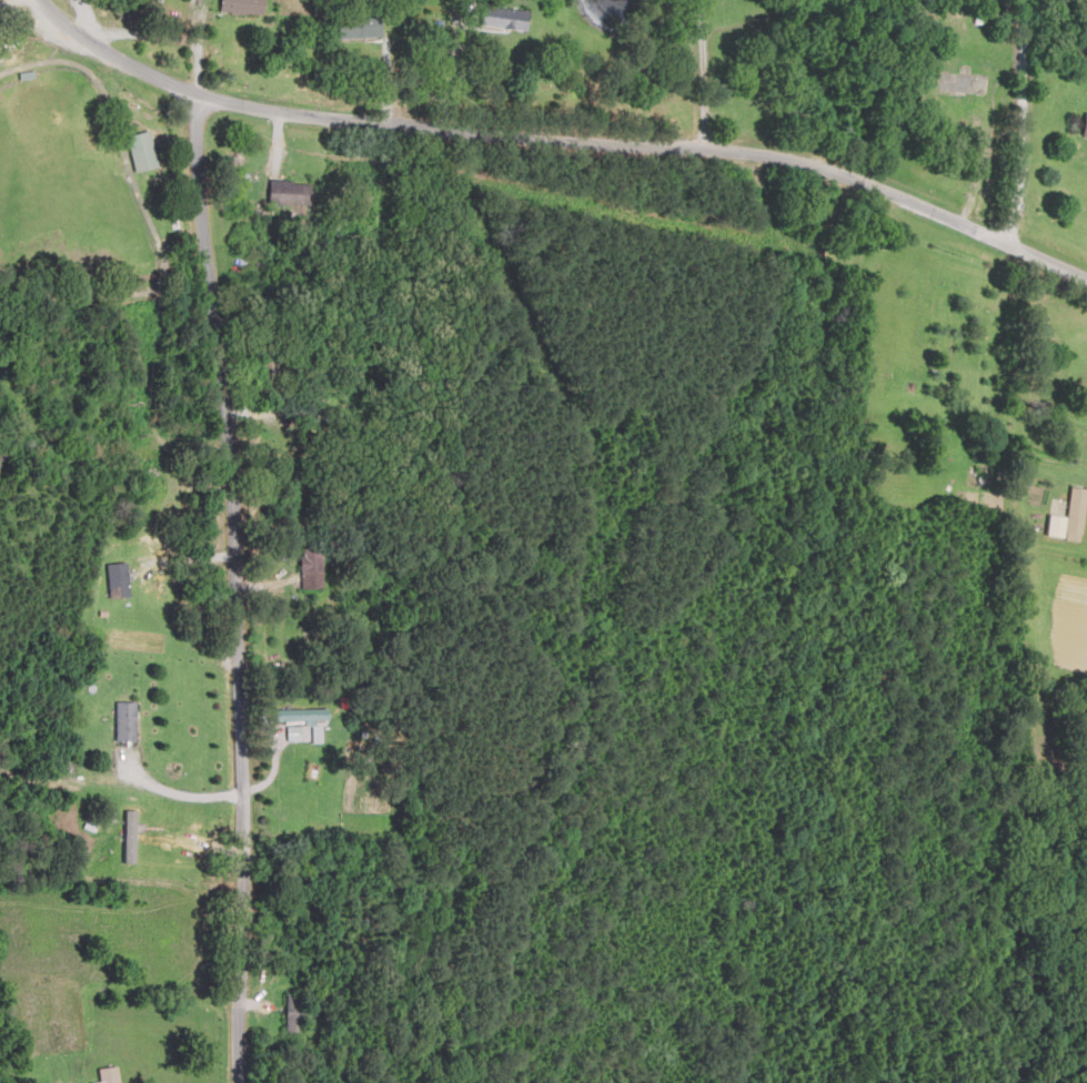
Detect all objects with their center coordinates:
building: (244, 7)
building: (514, 19)
building: (368, 28)
road: (1011, 121)
building: (1085, 128)
road: (523, 133)
building: (144, 151)
building: (293, 193)
road: (1050, 259)
building: (1071, 518)
road: (242, 561)
building: (313, 569)
building: (119, 580)
building: (303, 715)
building: (128, 721)
building: (303, 745)
building: (298, 1014)
building: (111, 1075)

